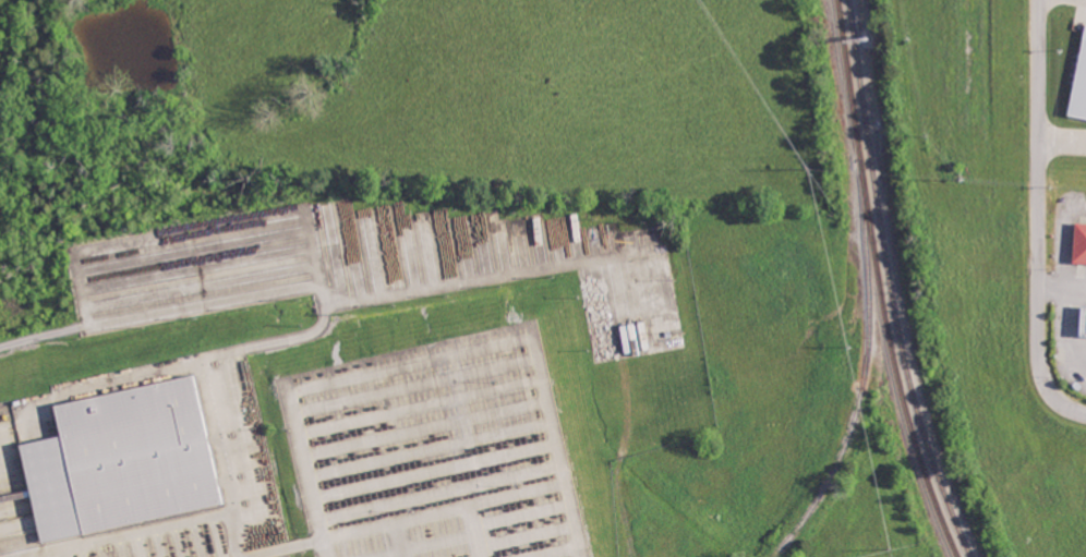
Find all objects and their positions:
building: (1079, 82)
road: (1062, 144)
road: (1038, 218)
building: (1082, 242)
railway: (882, 282)
railway: (890, 283)
building: (1085, 324)
railway: (865, 370)

